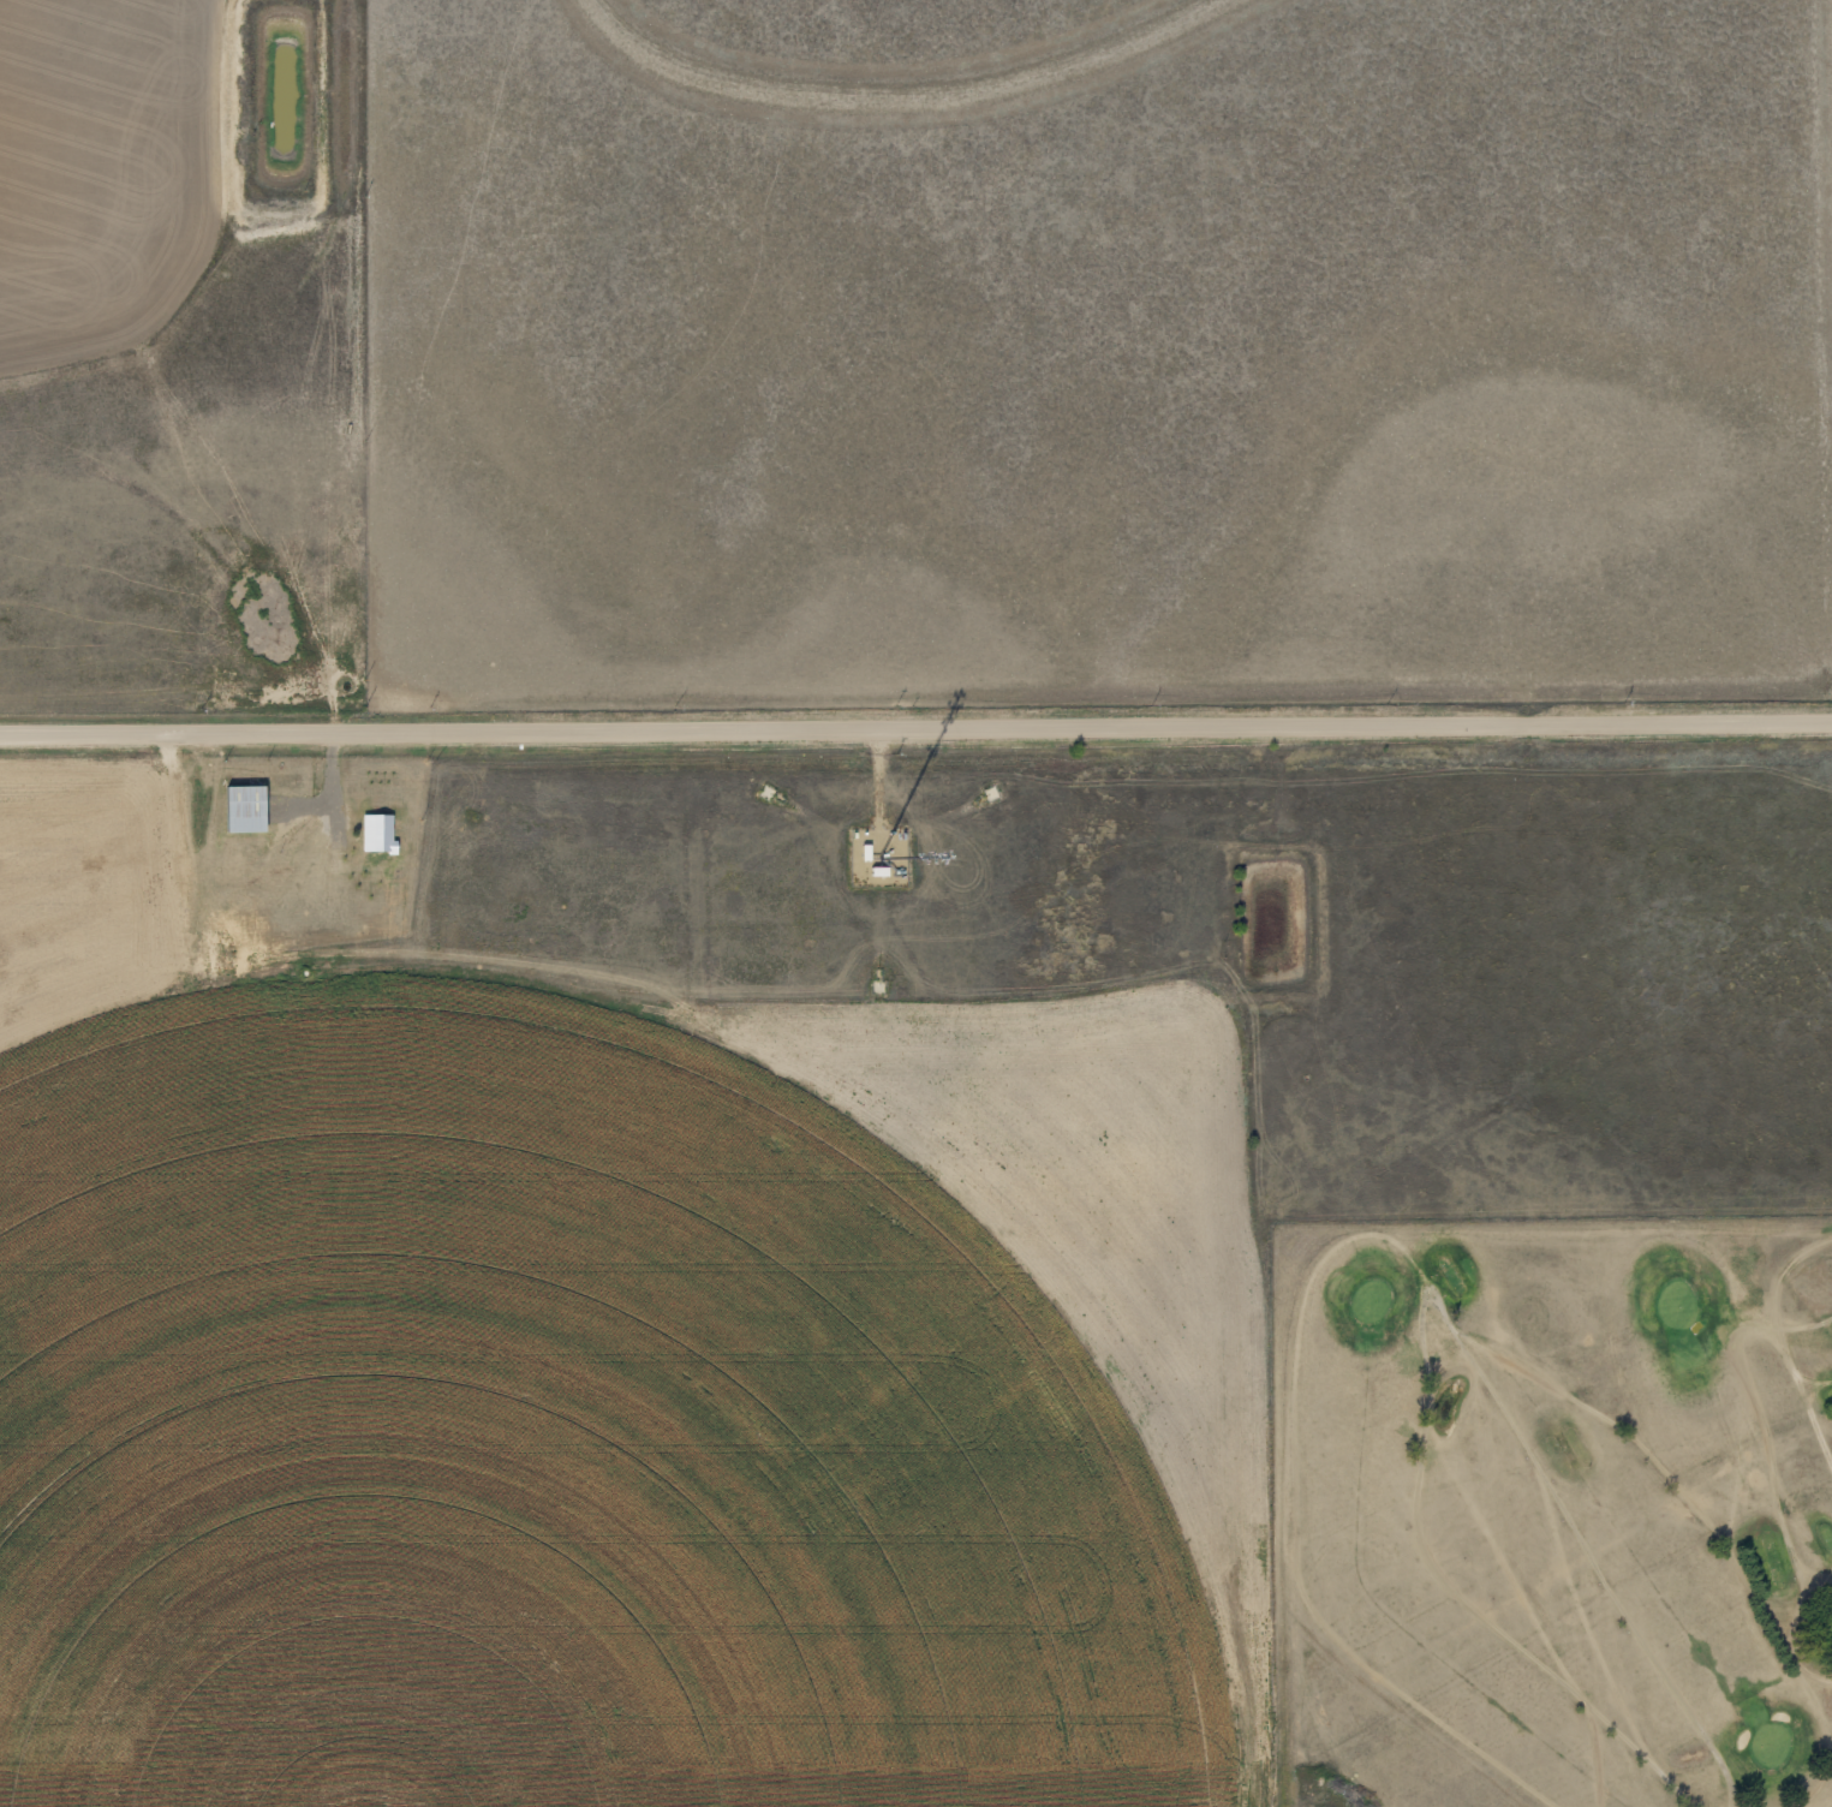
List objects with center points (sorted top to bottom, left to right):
road: (915, 727)
park: (1551, 1511)

